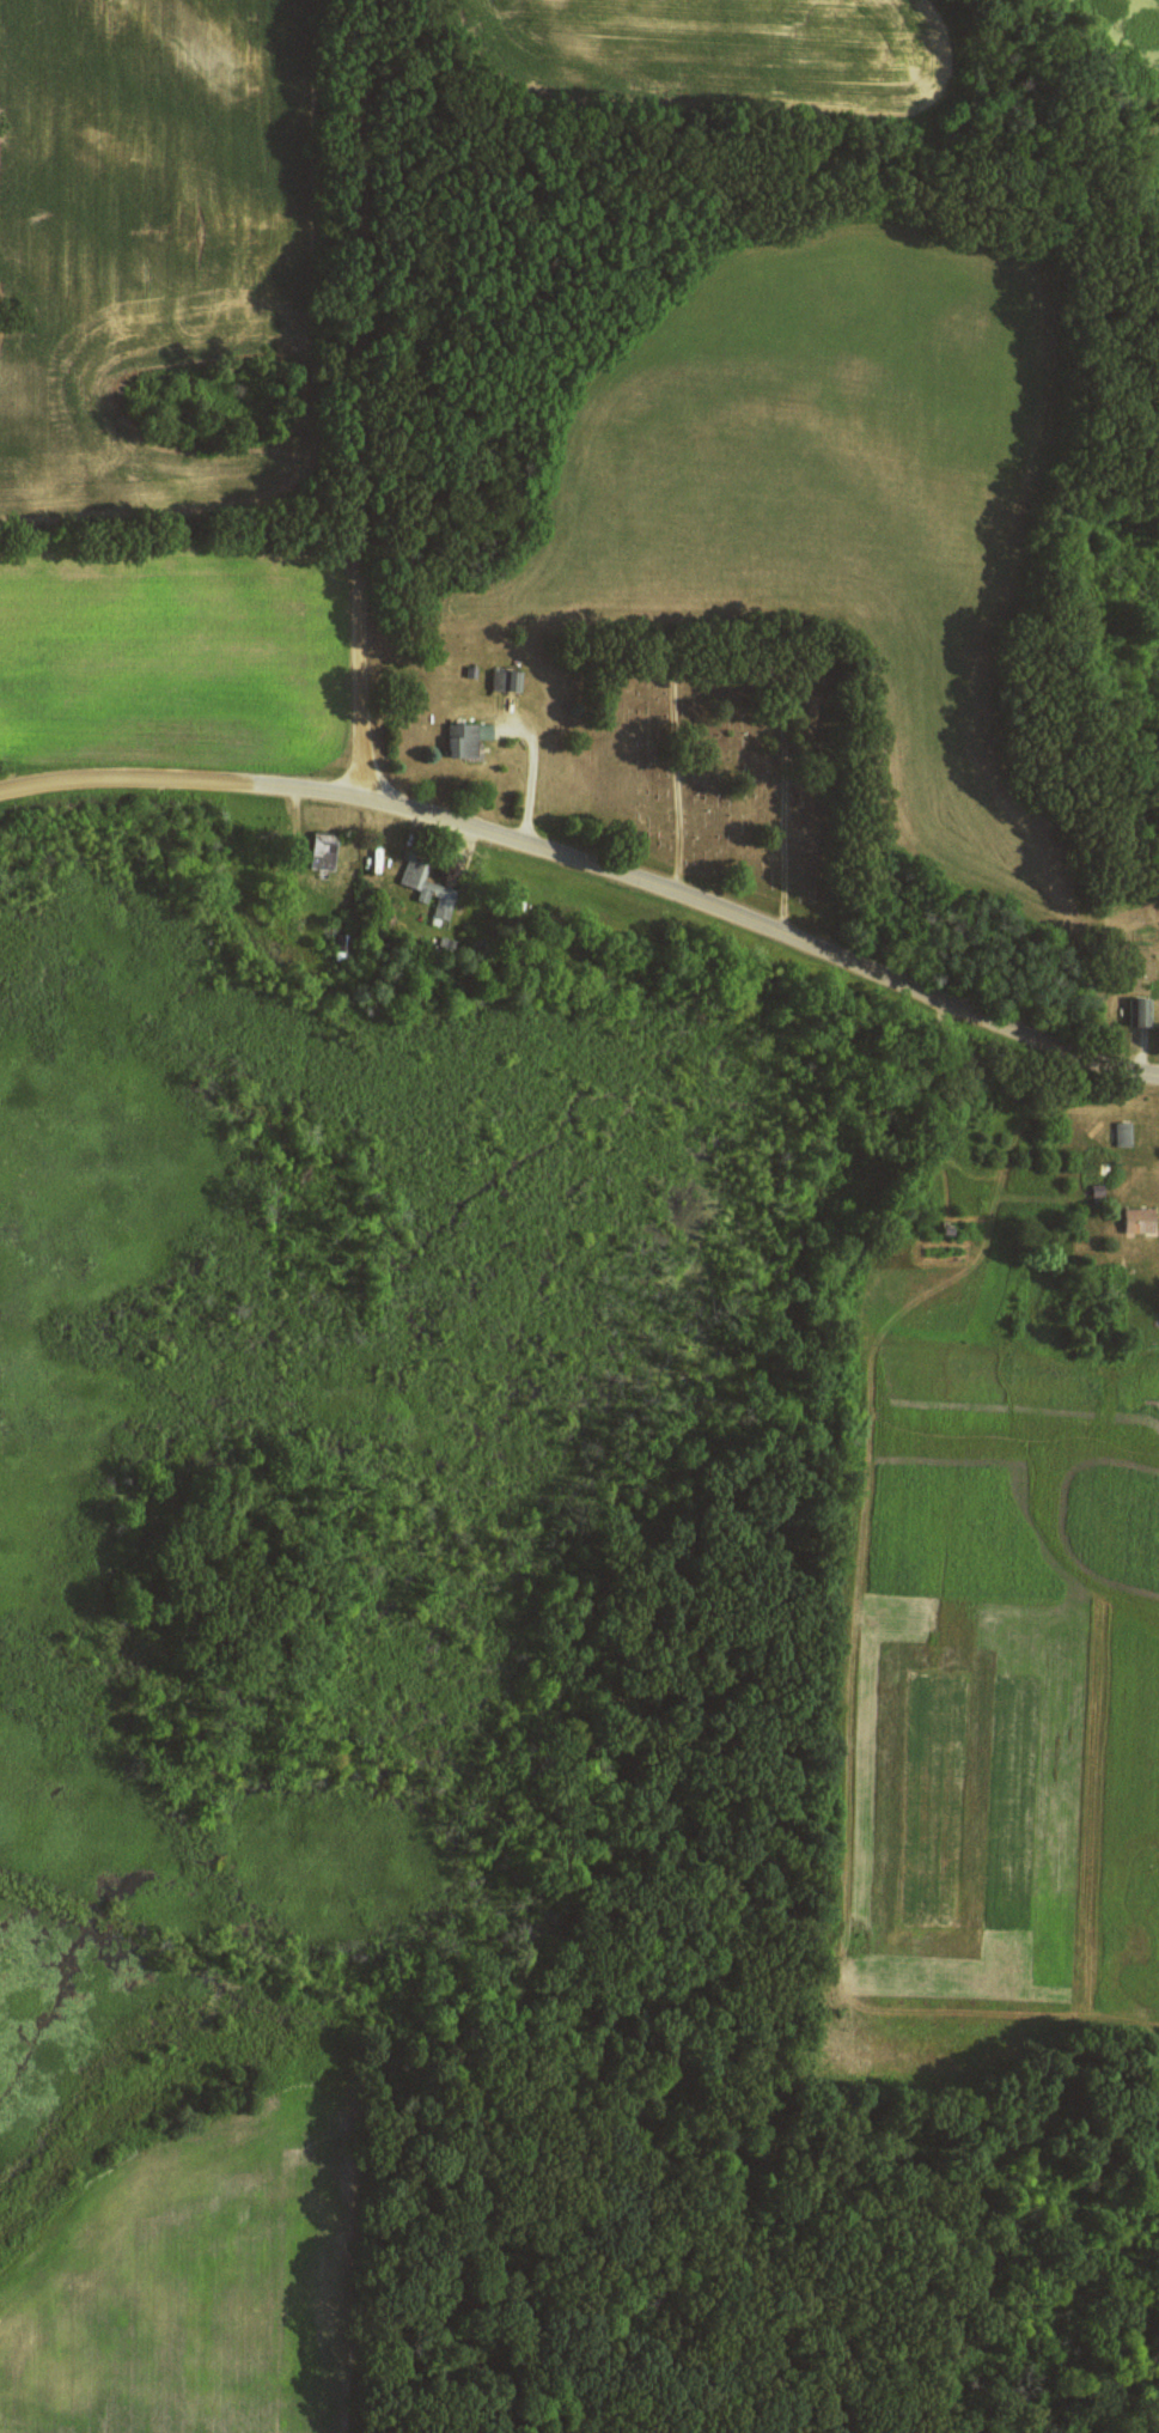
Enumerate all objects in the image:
road: (360, 399)
building: (507, 679)
building: (468, 738)
road: (130, 774)
building: (325, 850)
building: (431, 888)
road: (718, 910)
building: (1142, 1011)
building: (1124, 1133)
building: (1141, 1219)

